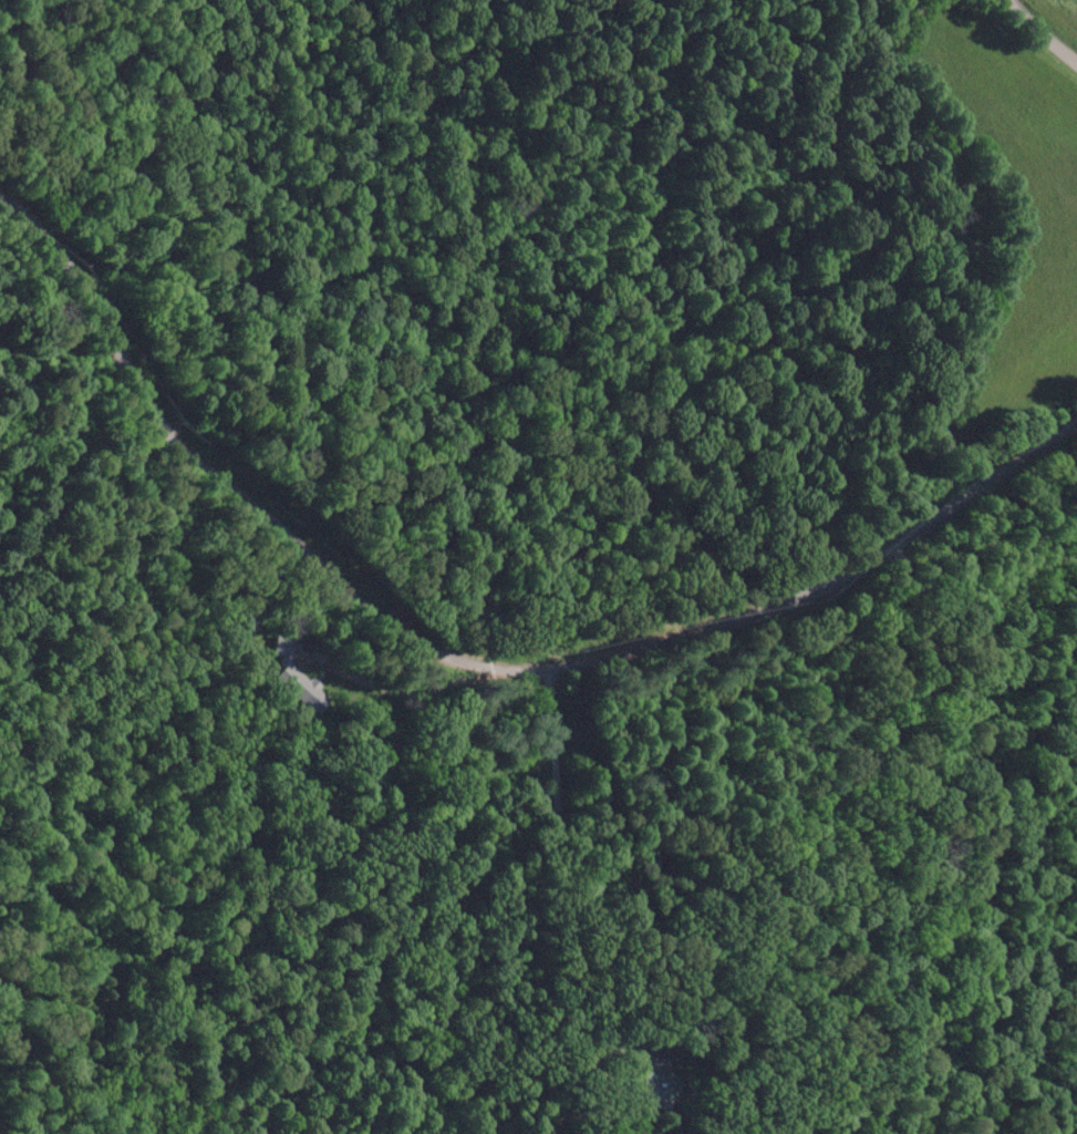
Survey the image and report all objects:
road: (1044, 30)
road: (468, 661)
building: (296, 677)
building: (655, 1084)

